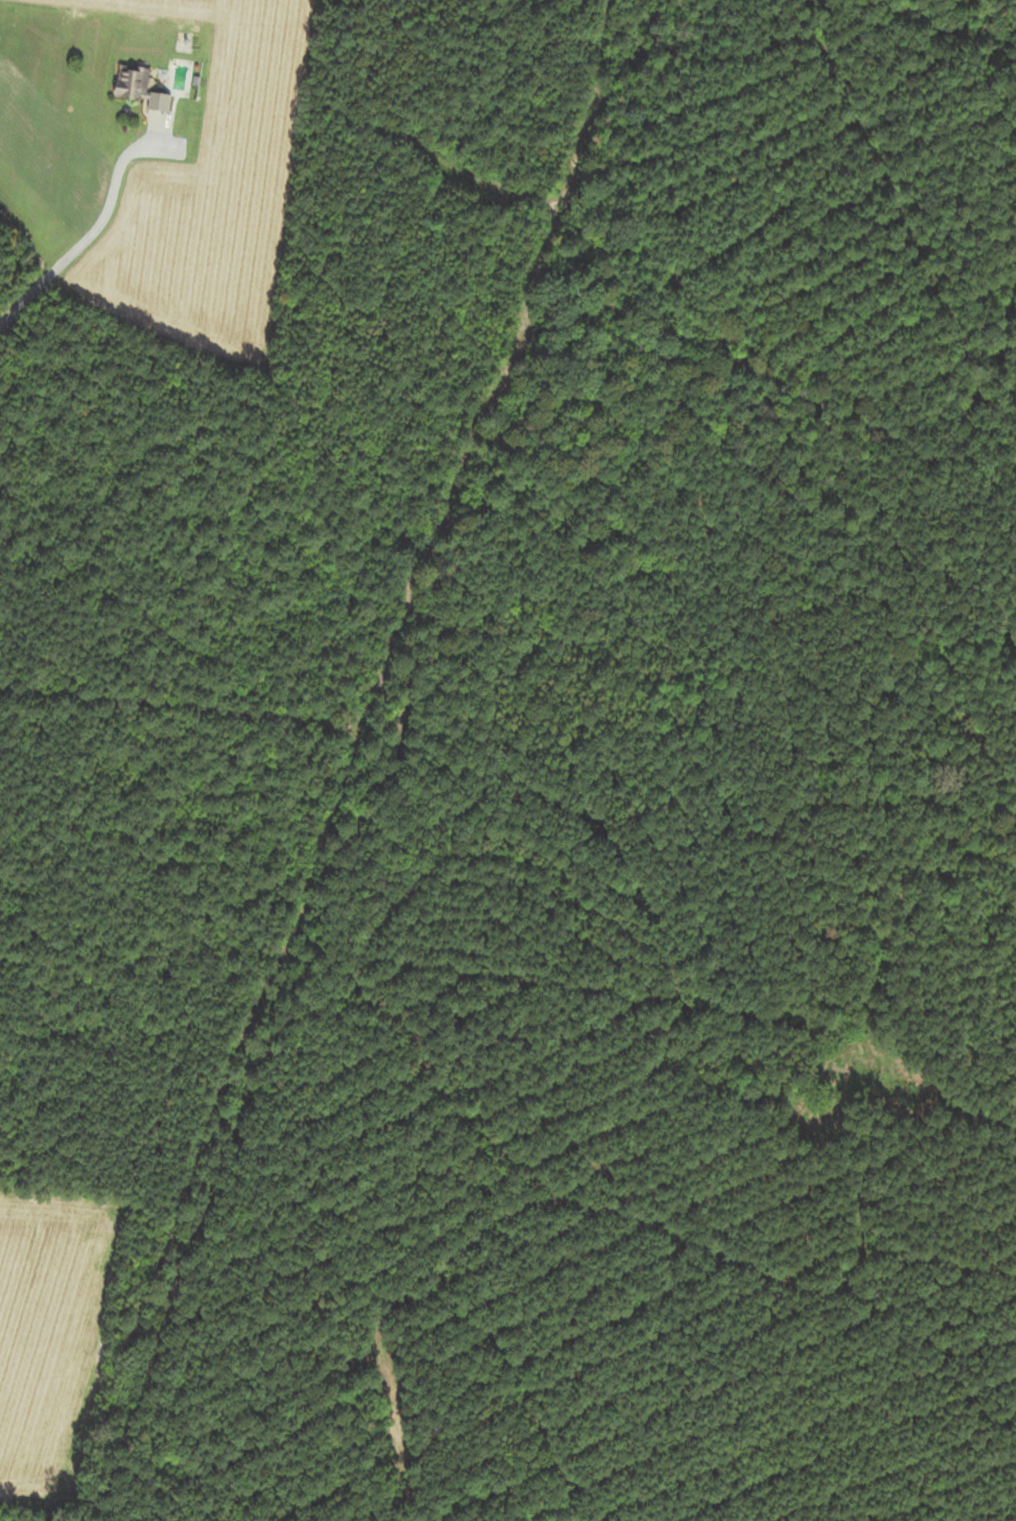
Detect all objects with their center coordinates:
building: (139, 88)

